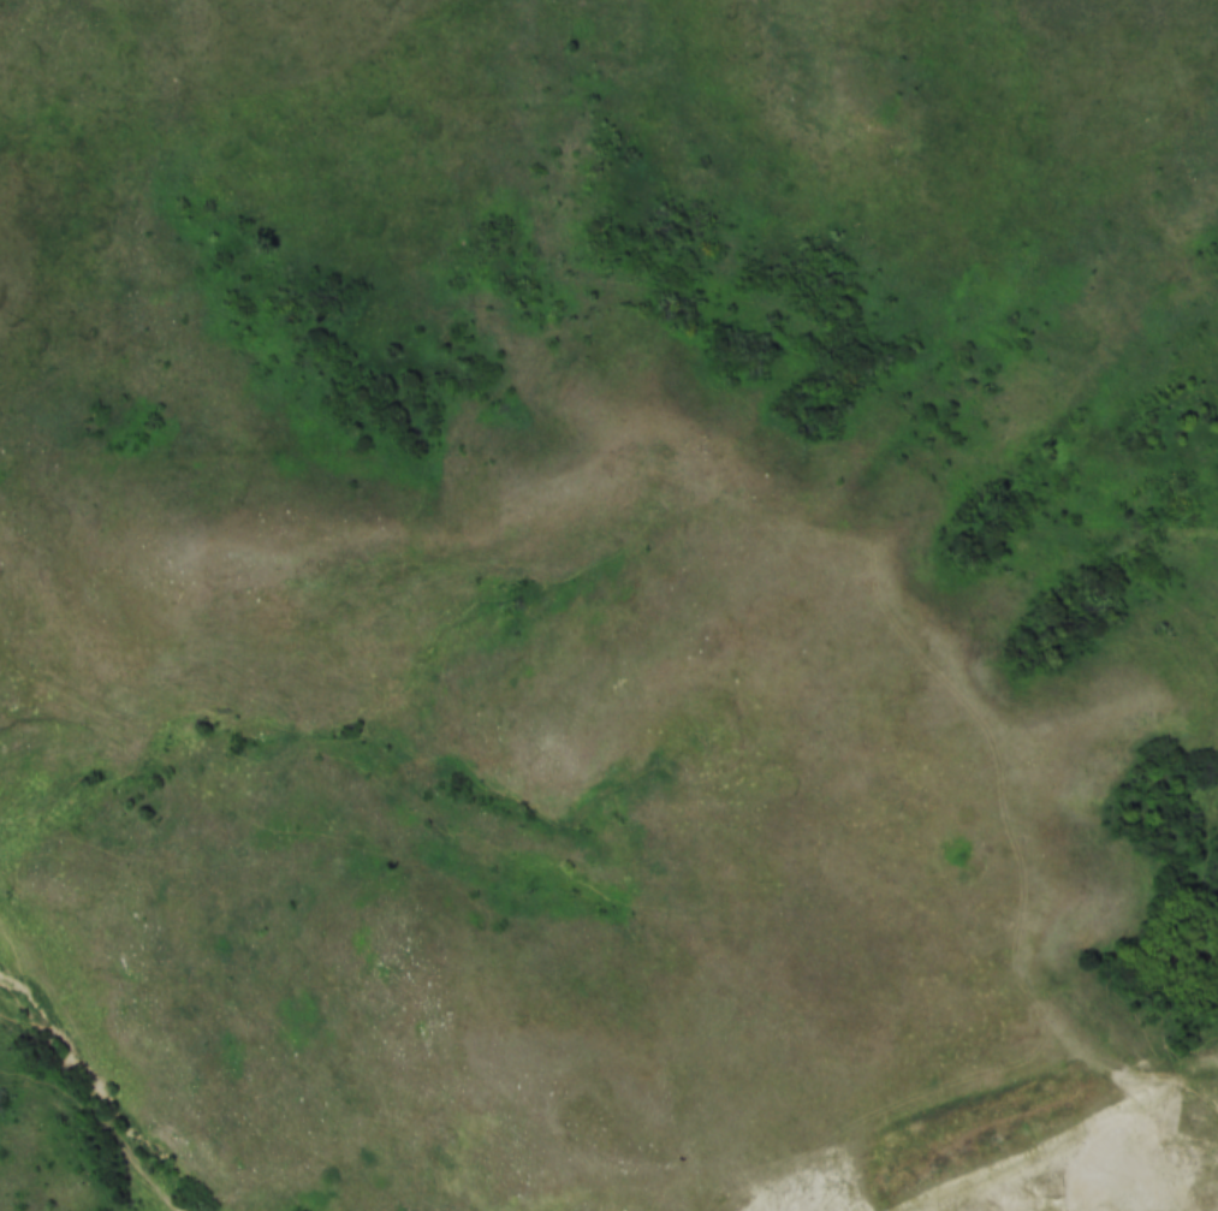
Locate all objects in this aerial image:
quarry: (1016, 1146)

